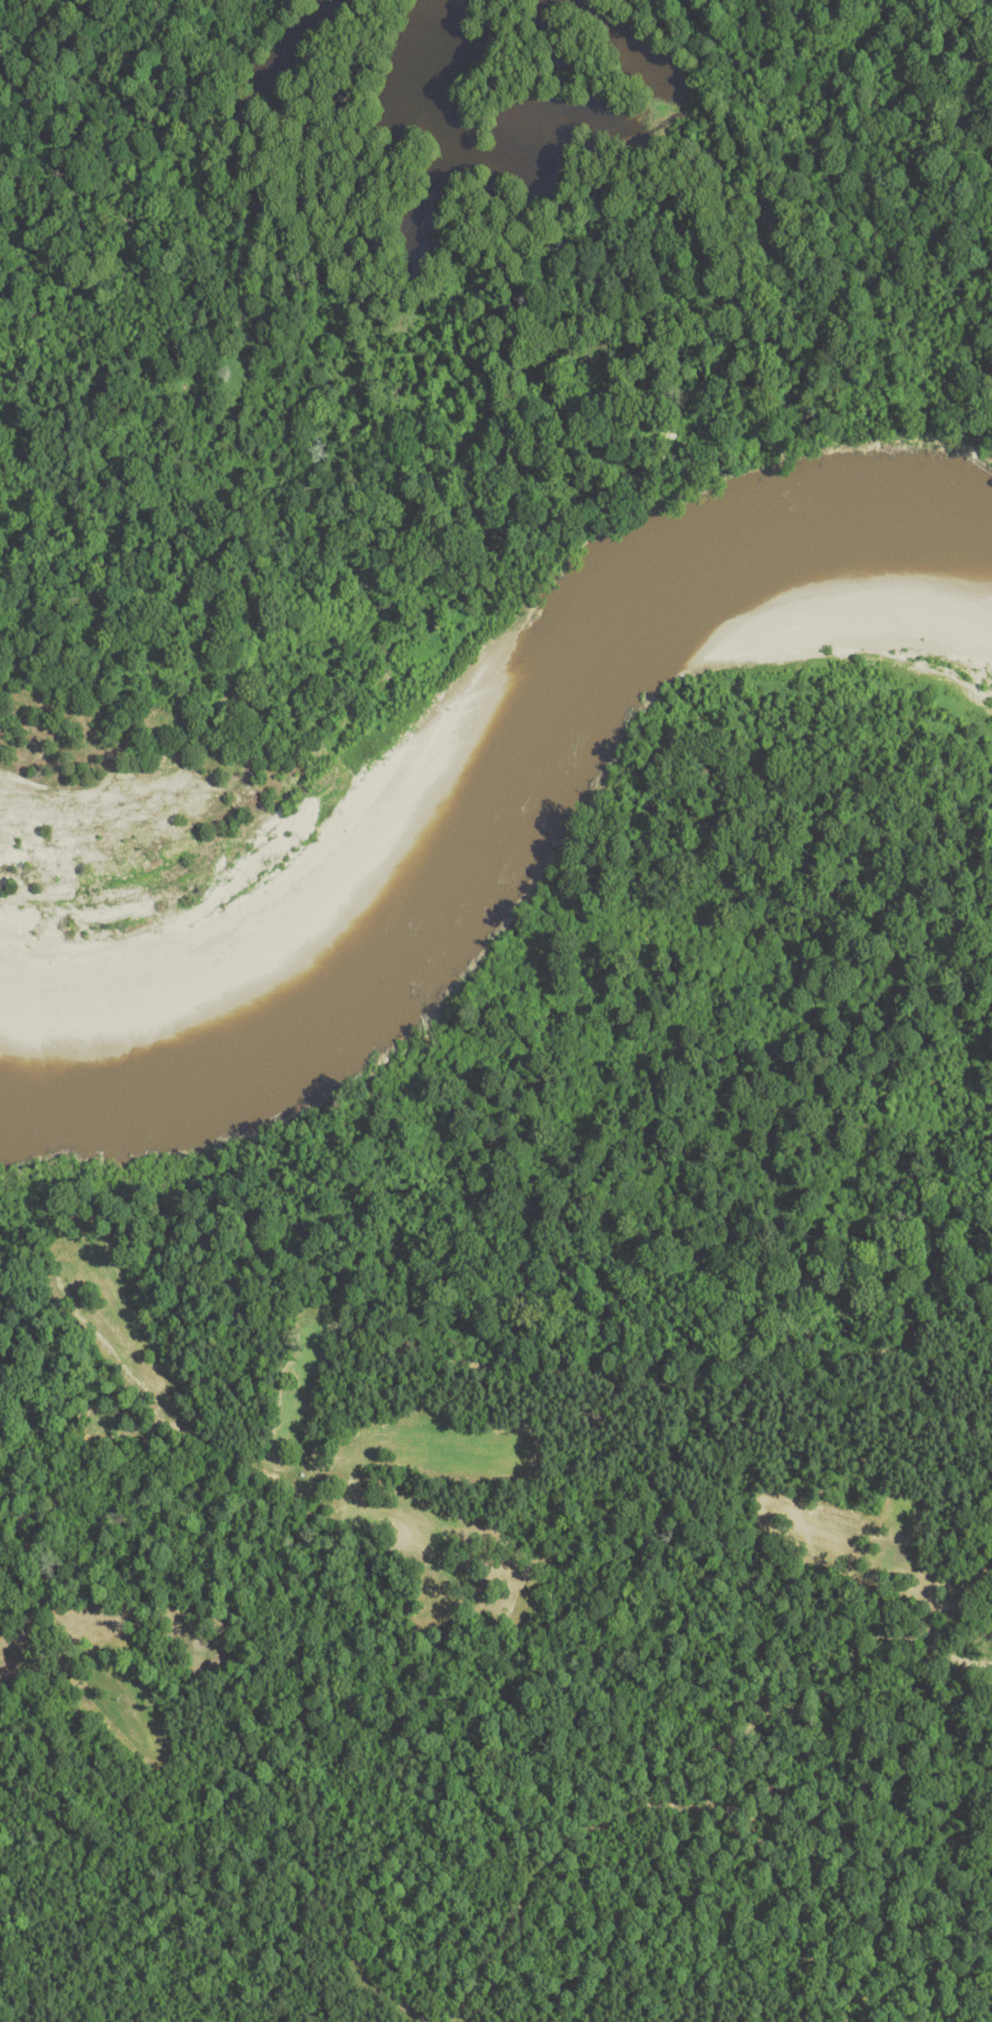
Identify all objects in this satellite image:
river: (486, 785)

